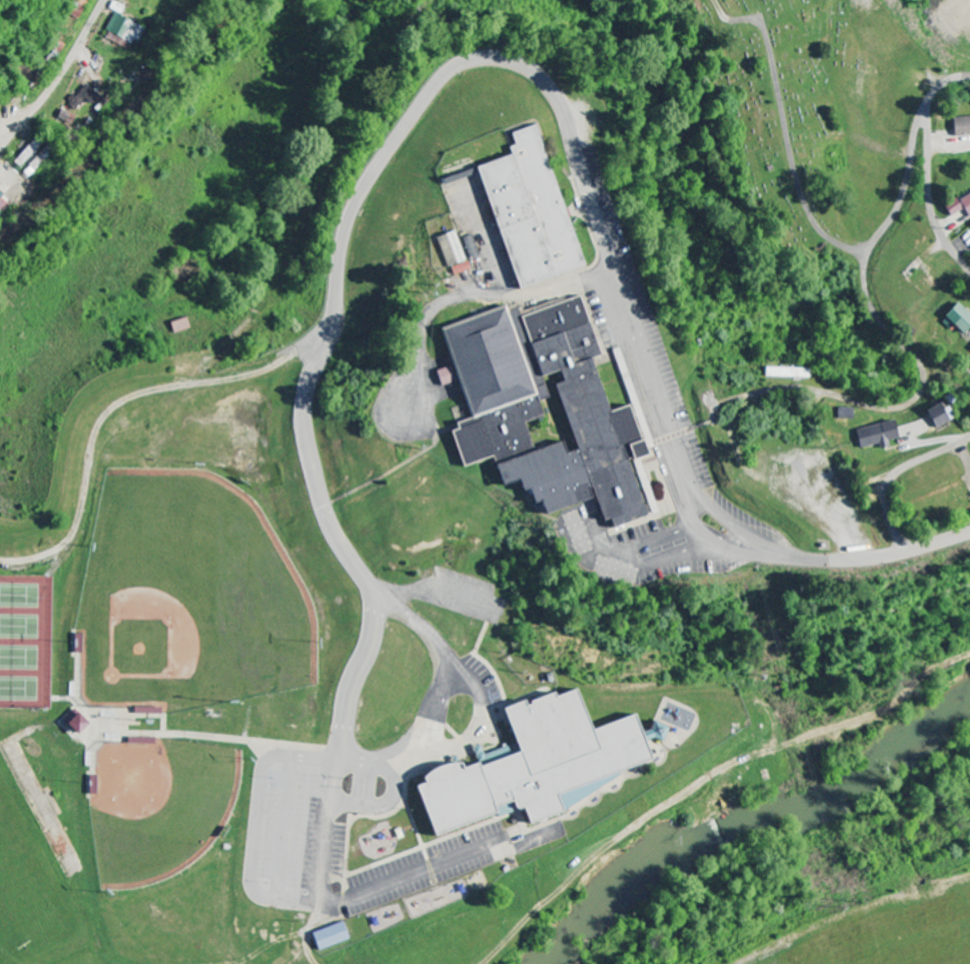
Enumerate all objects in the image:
building: (77, 7)
building: (125, 30)
road: (59, 78)
building: (82, 98)
park: (809, 118)
building: (65, 119)
building: (960, 126)
road: (929, 190)
building: (2, 201)
building: (957, 204)
building: (525, 211)
building: (969, 240)
road: (865, 264)
building: (950, 317)
building: (178, 325)
building: (969, 347)
building: (783, 372)
building: (538, 408)
building: (840, 413)
building: (932, 414)
building: (870, 434)
road: (896, 476)
road: (866, 561)
building: (148, 711)
building: (73, 723)
building: (533, 763)
river: (749, 819)
building: (326, 937)

